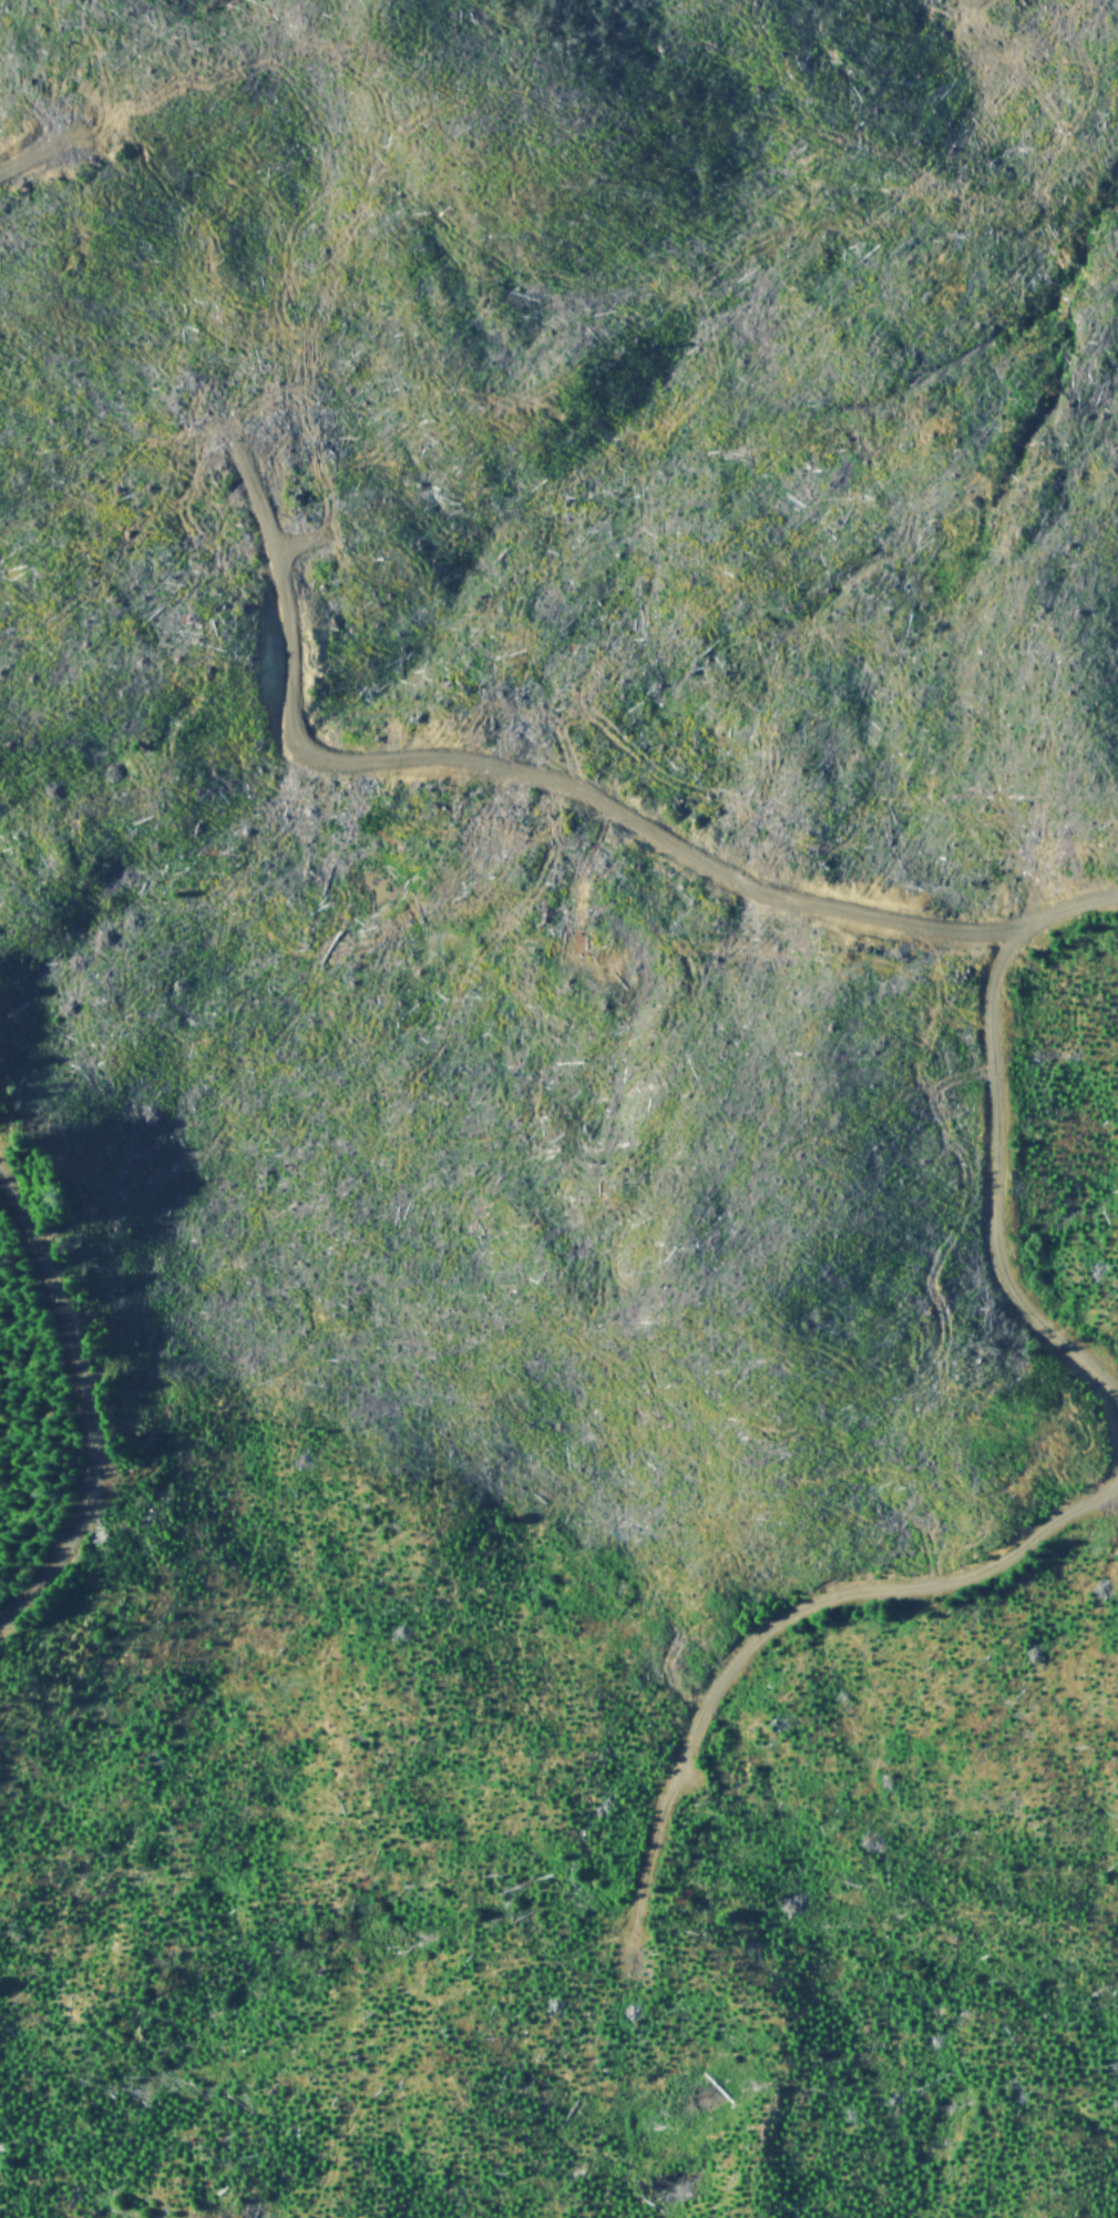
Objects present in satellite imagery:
road: (1011, 1121)
road: (84, 1399)
road: (776, 1619)

